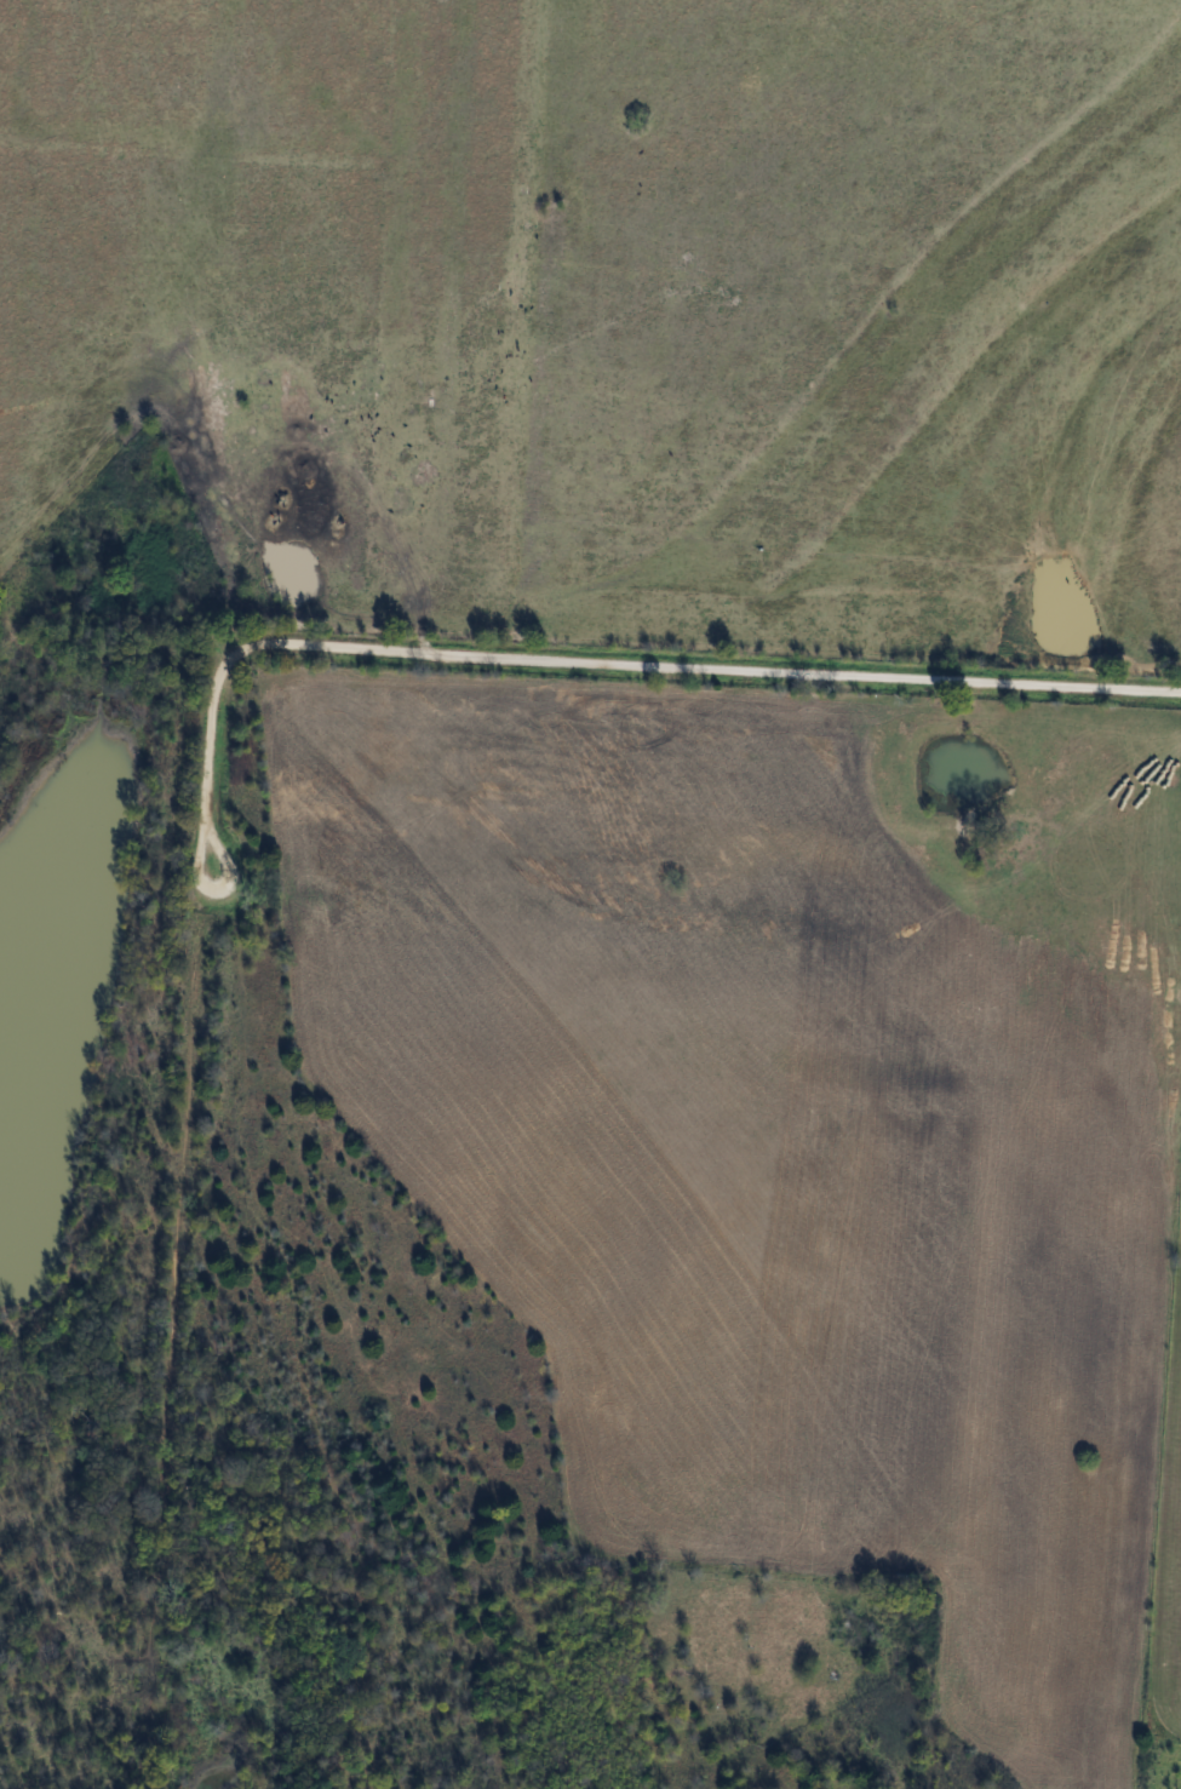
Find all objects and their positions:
road: (676, 667)
road: (202, 842)

